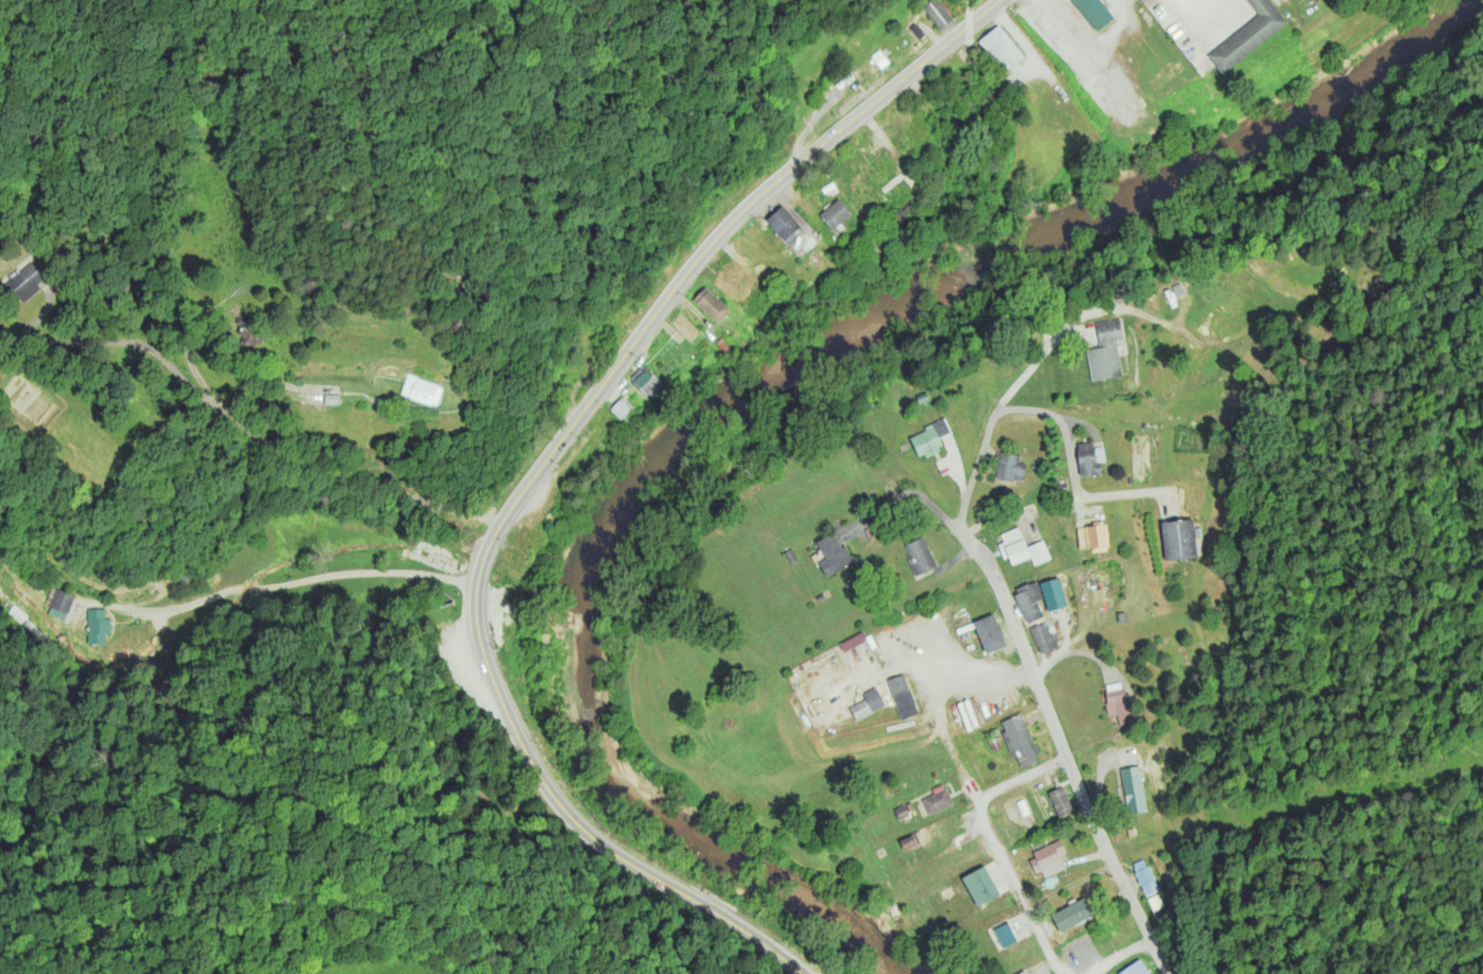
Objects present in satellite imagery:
building: (1094, 12)
building: (938, 14)
building: (1247, 35)
building: (1001, 47)
building: (879, 58)
building: (1164, 71)
building: (834, 213)
building: (783, 224)
road: (701, 257)
building: (25, 281)
building: (710, 304)
building: (1105, 350)
building: (645, 381)
building: (421, 389)
building: (621, 406)
road: (239, 424)
building: (929, 437)
building: (1089, 458)
building: (1009, 465)
road: (1071, 475)
road: (901, 493)
building: (1093, 536)
building: (1178, 538)
building: (1021, 547)
building: (833, 554)
building: (919, 555)
road: (995, 589)
road: (314, 590)
building: (1052, 593)
building: (1029, 600)
building: (60, 603)
building: (97, 625)
building: (989, 632)
building: (1043, 636)
building: (852, 641)
road: (1070, 654)
building: (901, 695)
building: (867, 703)
building: (1120, 707)
building: (1020, 741)
building: (1131, 791)
building: (937, 802)
building: (1061, 802)
building: (902, 815)
road: (579, 817)
building: (959, 840)
road: (993, 842)
building: (908, 843)
building: (1048, 859)
building: (1144, 877)
building: (983, 884)
building: (1155, 901)
building: (1072, 911)
building: (1006, 937)
road: (1119, 960)
building: (1135, 969)
building: (1023, 973)

